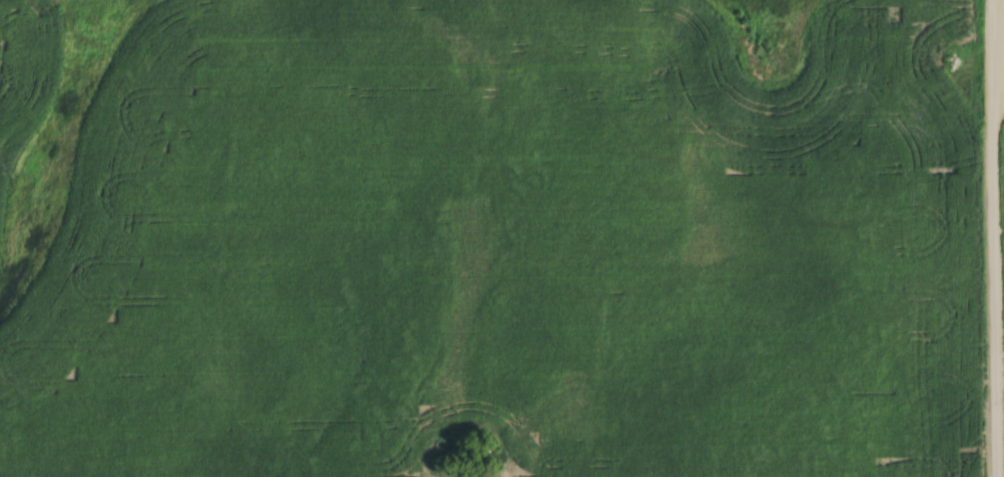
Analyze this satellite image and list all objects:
road: (990, 238)

